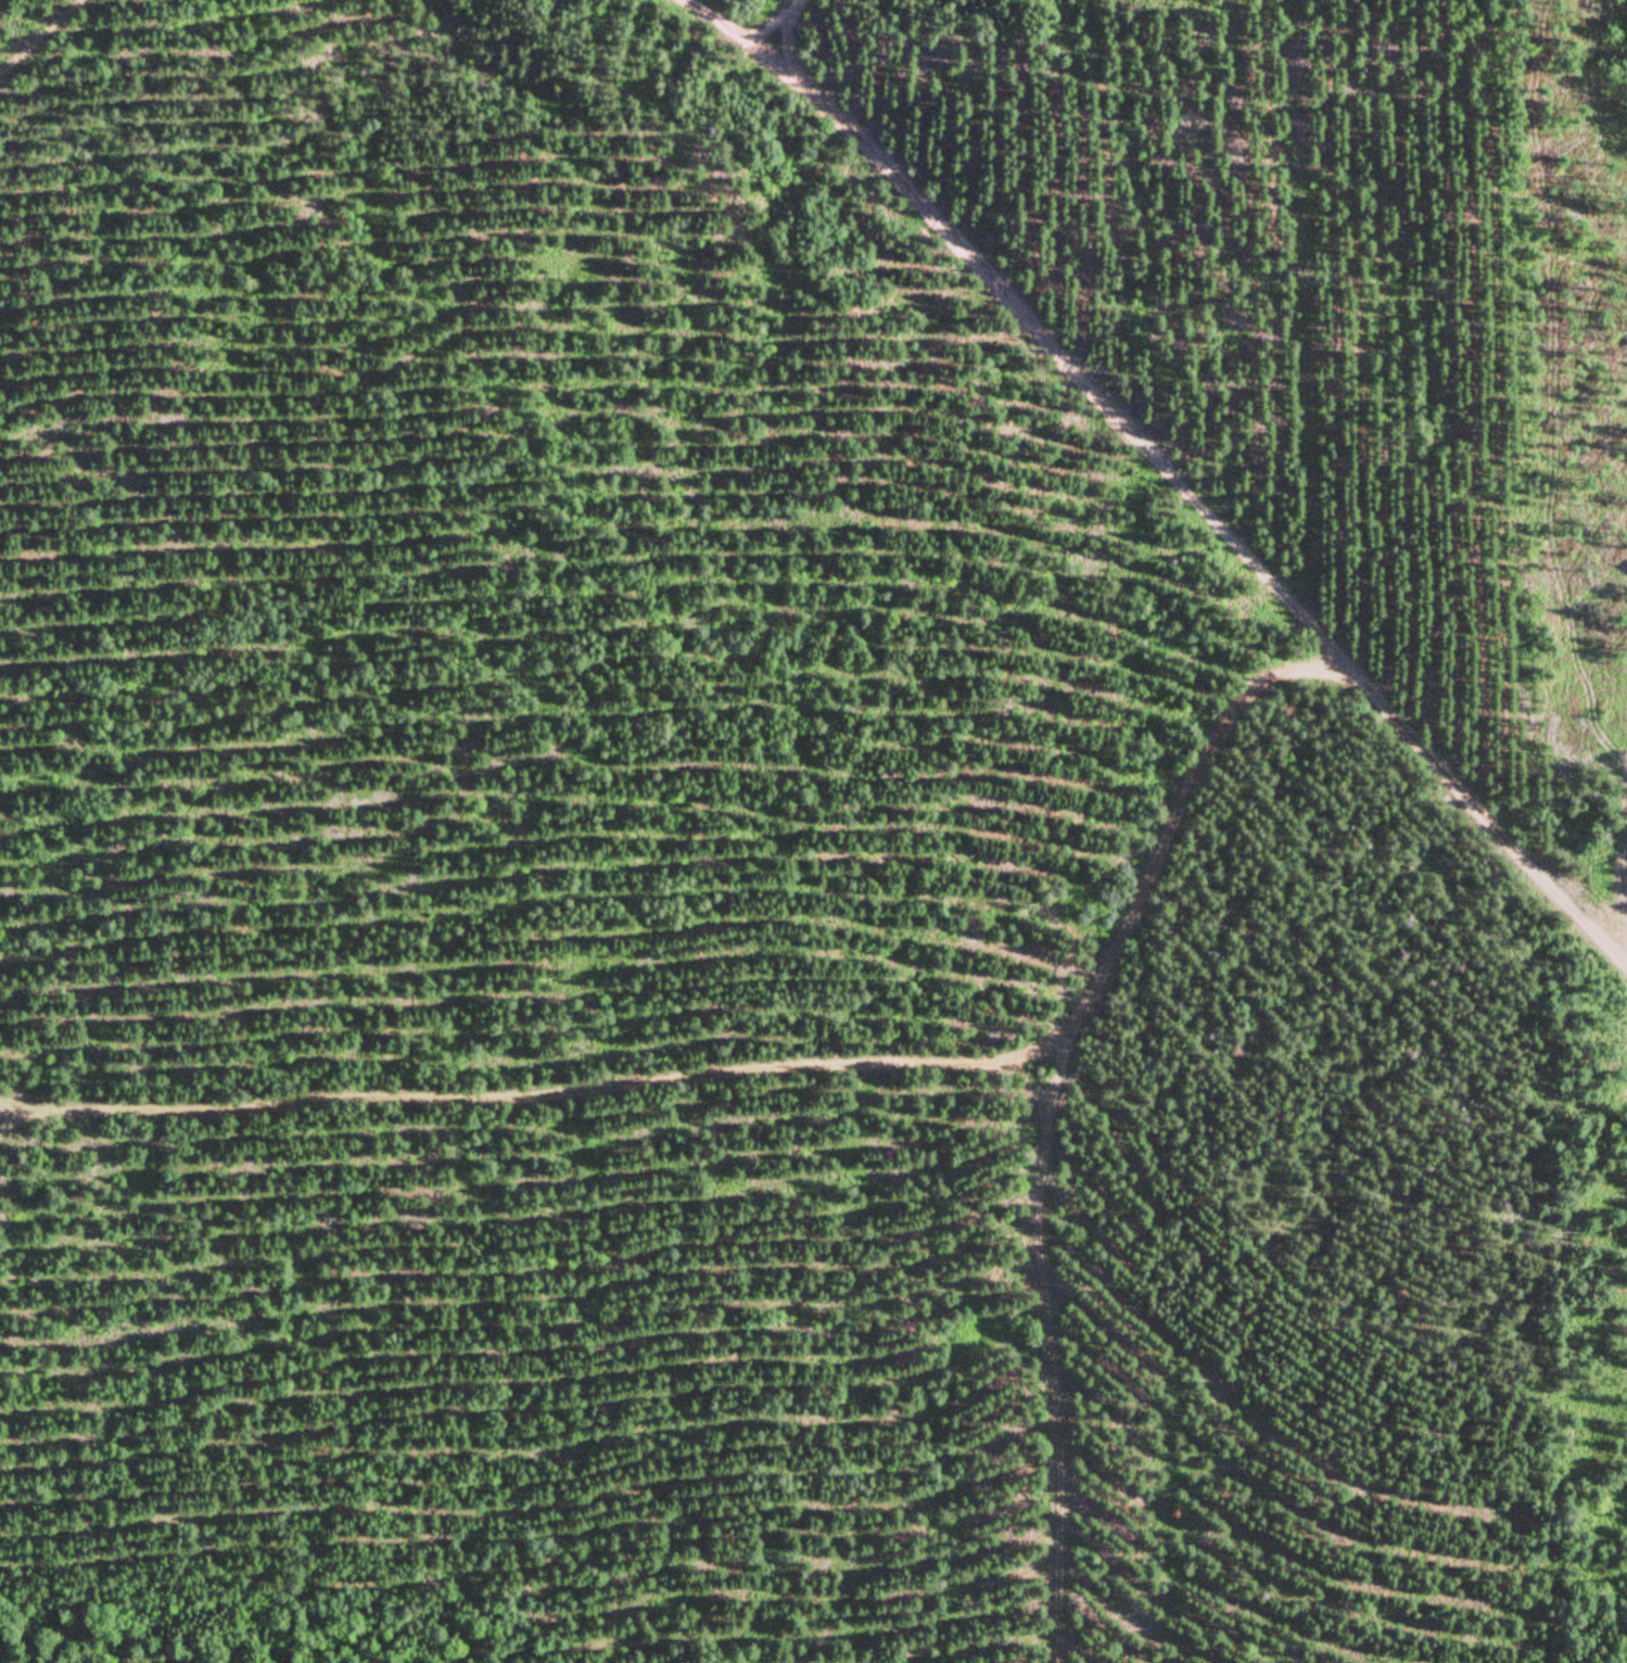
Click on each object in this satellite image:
road: (784, 24)
road: (43, 38)
road: (1168, 466)
road: (529, 1080)
road: (1033, 1097)

